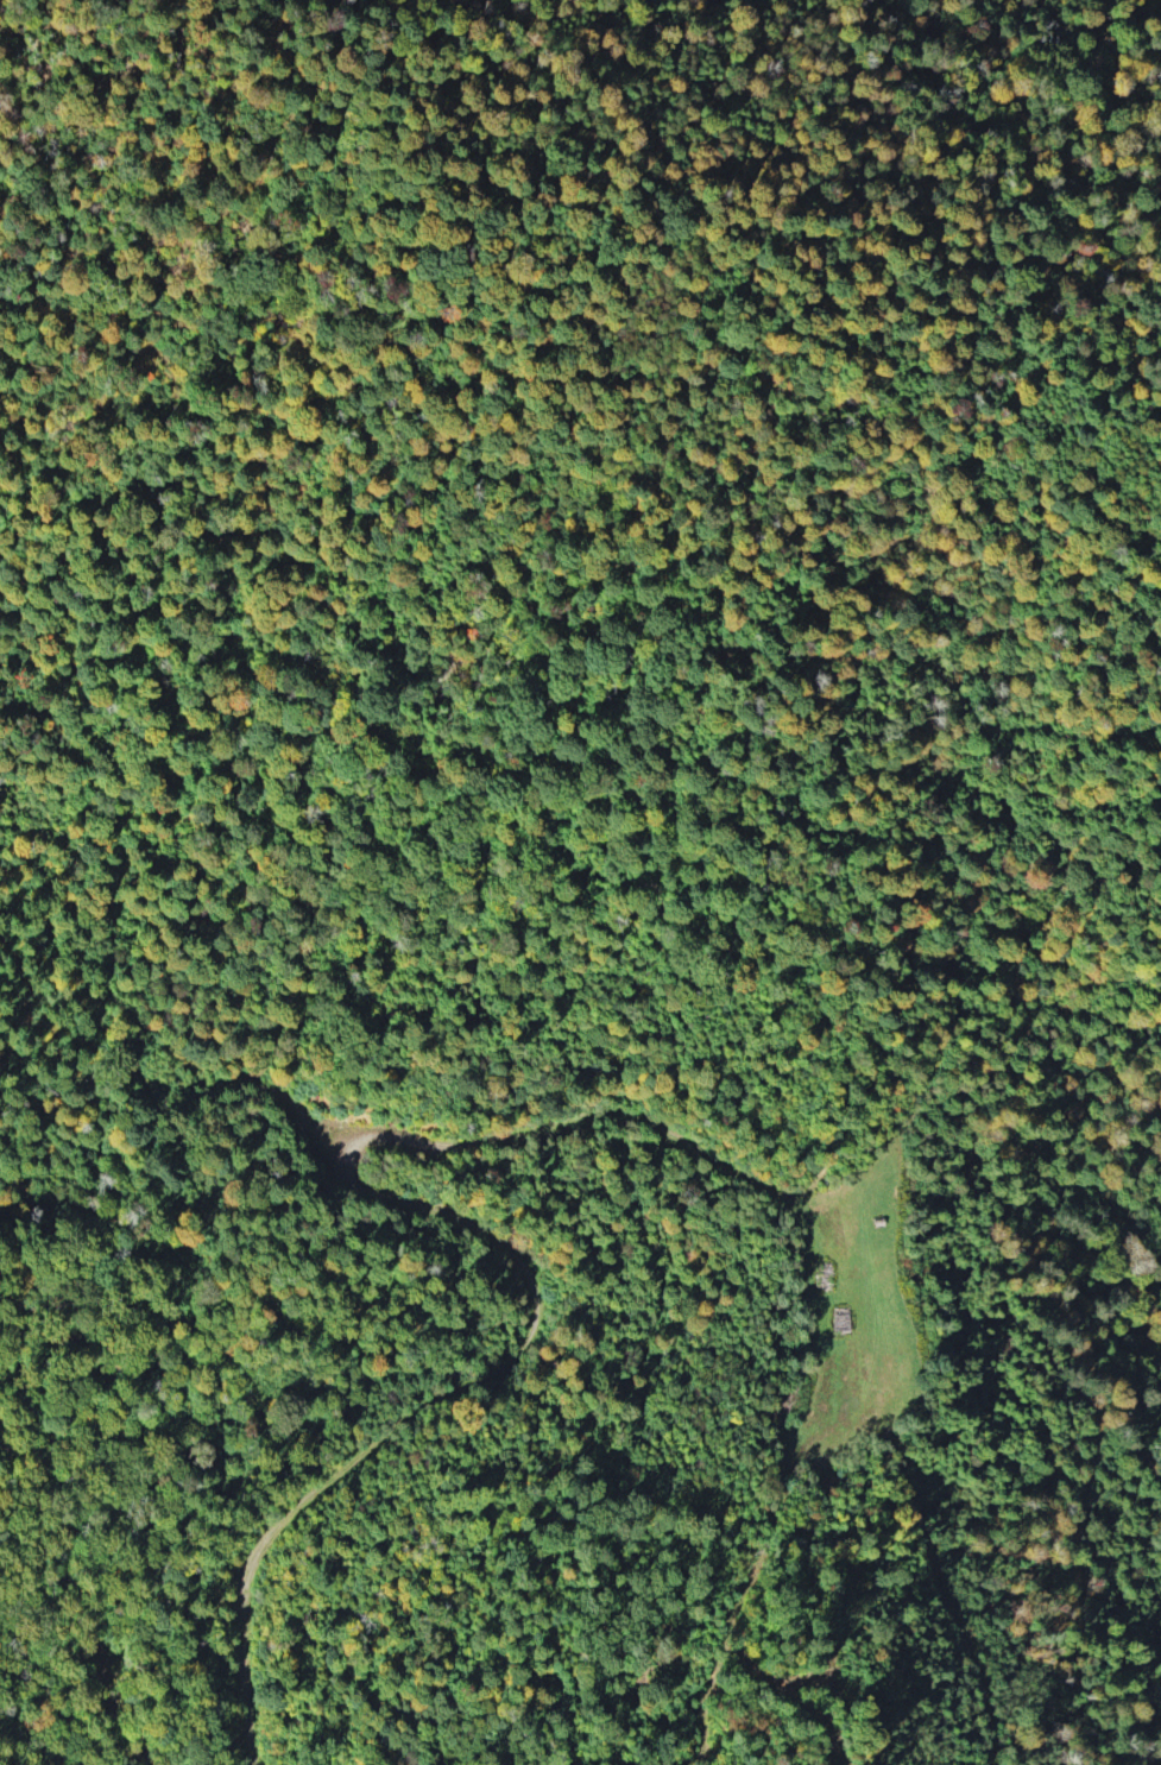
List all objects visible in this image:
road: (501, 1242)

